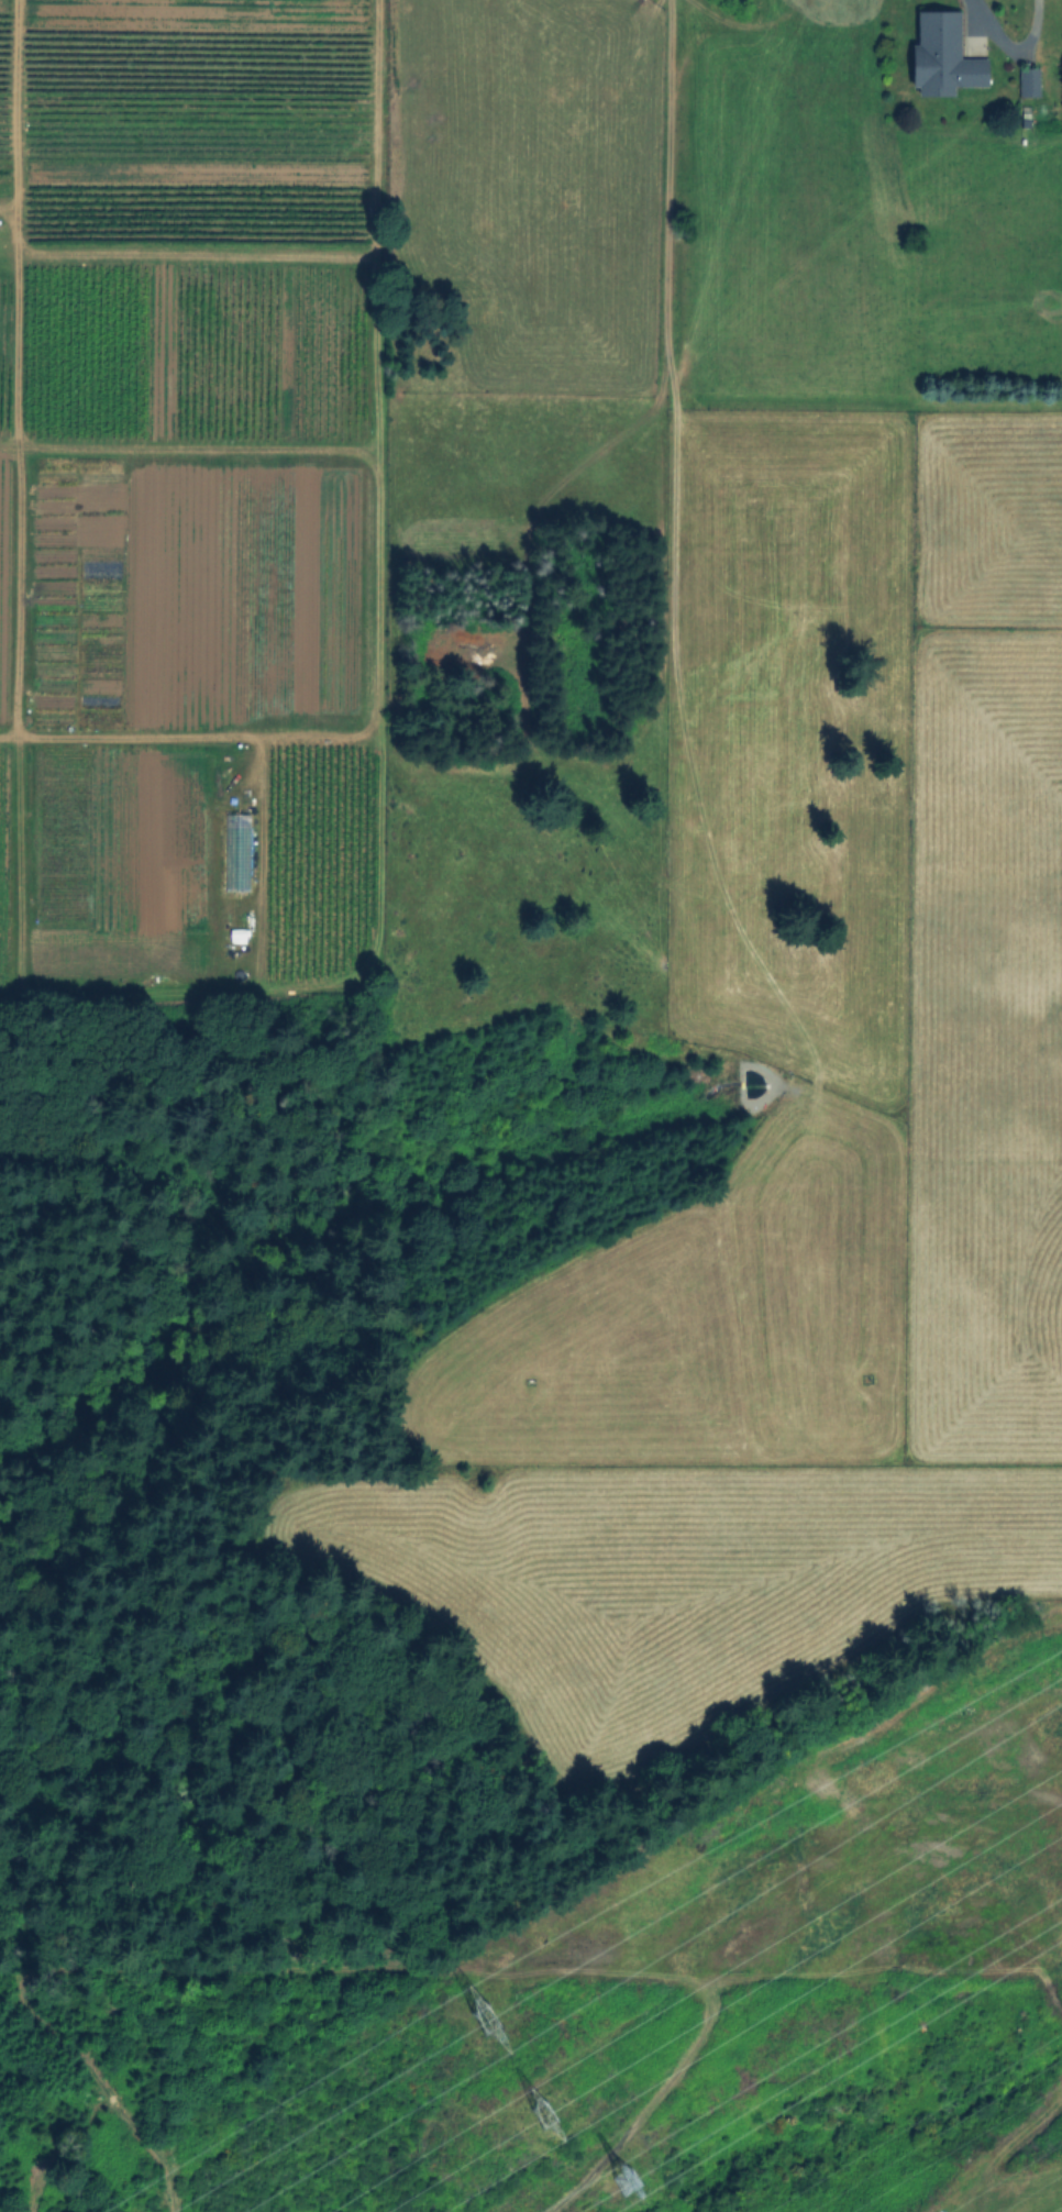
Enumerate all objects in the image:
road: (988, 22)
building: (944, 58)
building: (1028, 85)
power tower: (483, 2015)
power tower: (538, 2112)
power tower: (627, 2181)

